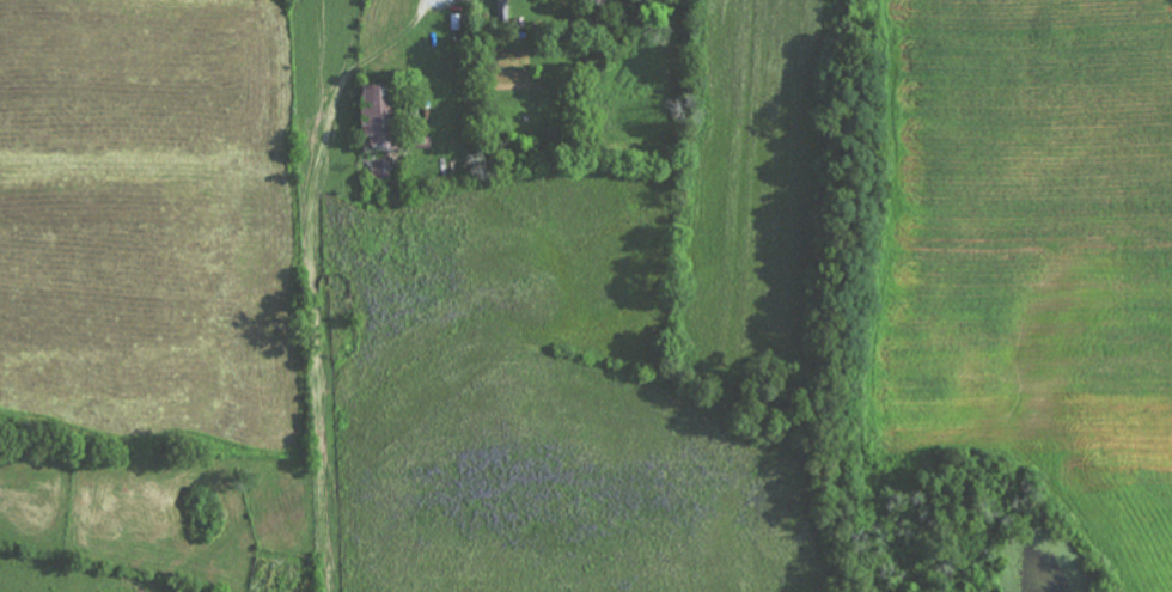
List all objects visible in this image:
building: (378, 139)
road: (319, 288)

